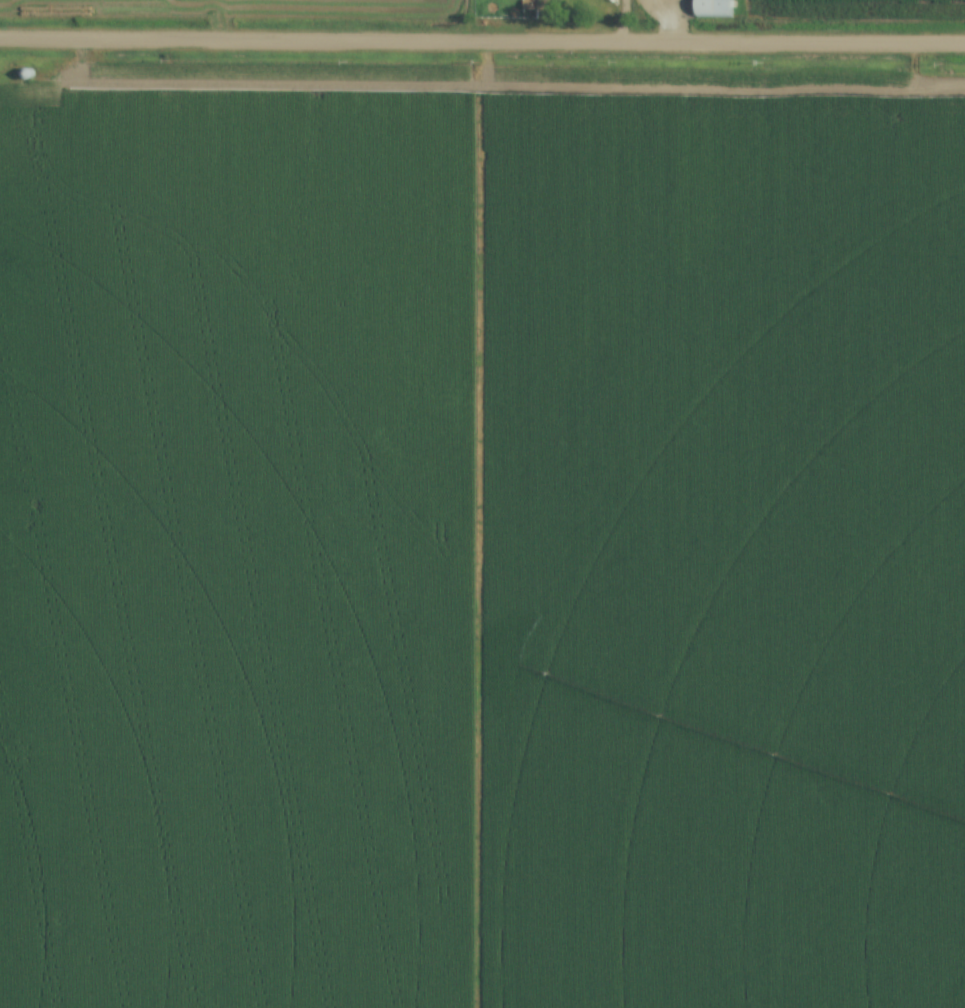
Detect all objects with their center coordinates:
building: (528, 4)
crop: (256, 6)
building: (713, 7)
crop: (857, 8)
road: (482, 42)
building: (27, 75)
crop: (481, 538)

